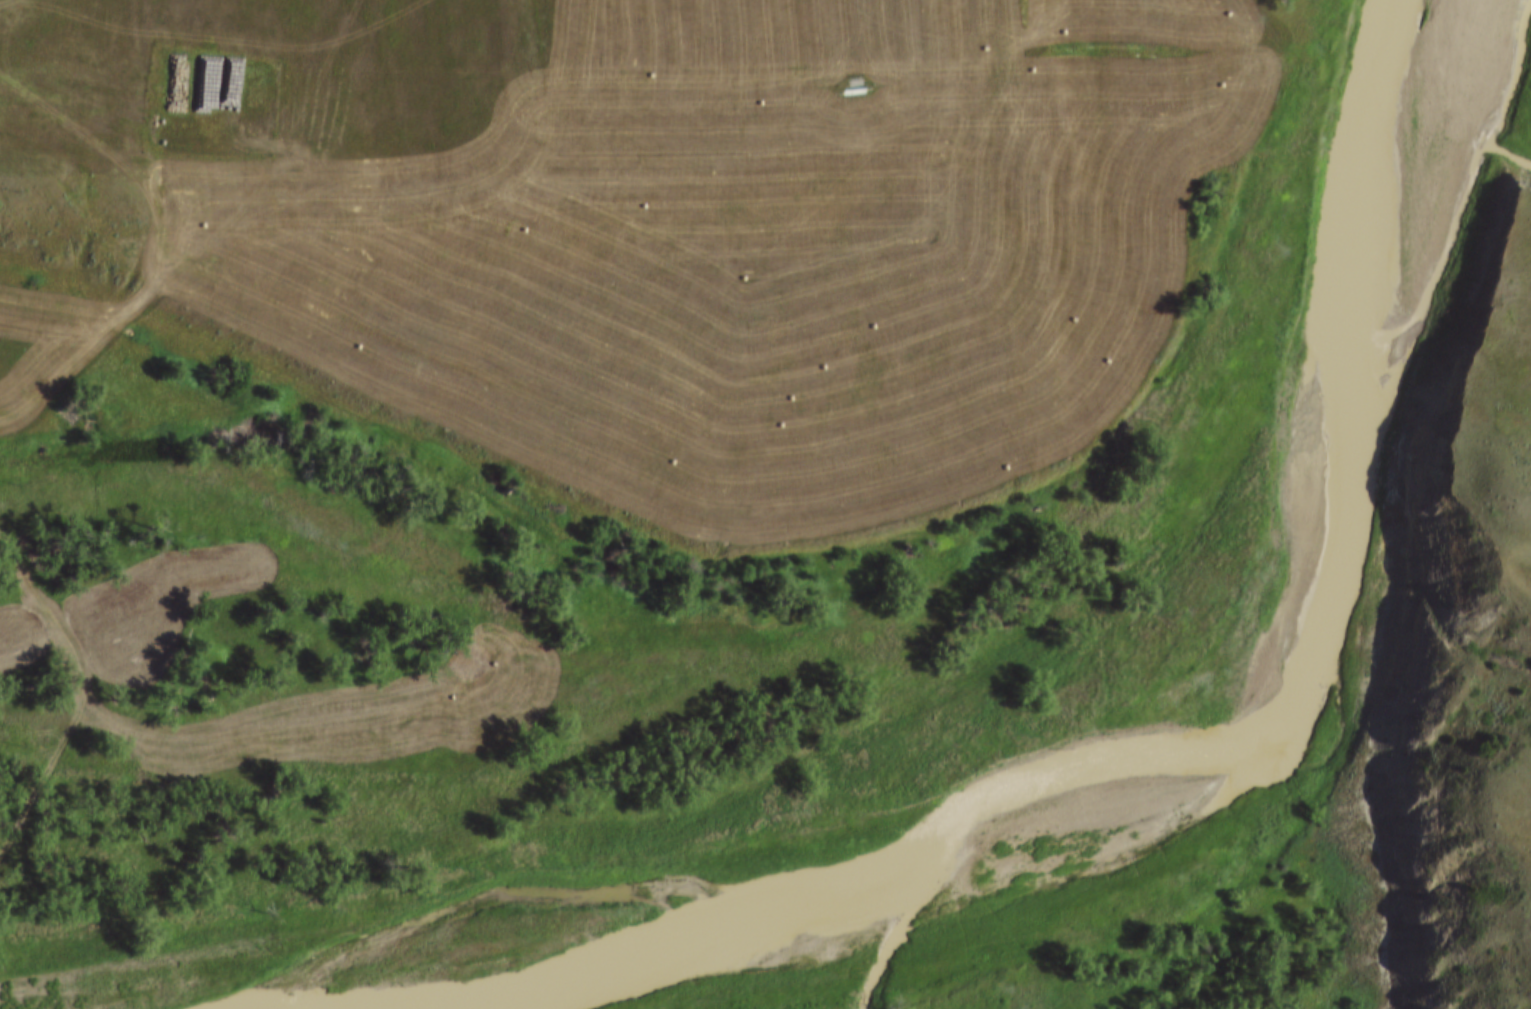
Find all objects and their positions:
river: (1446, 127)
river: (1218, 763)

